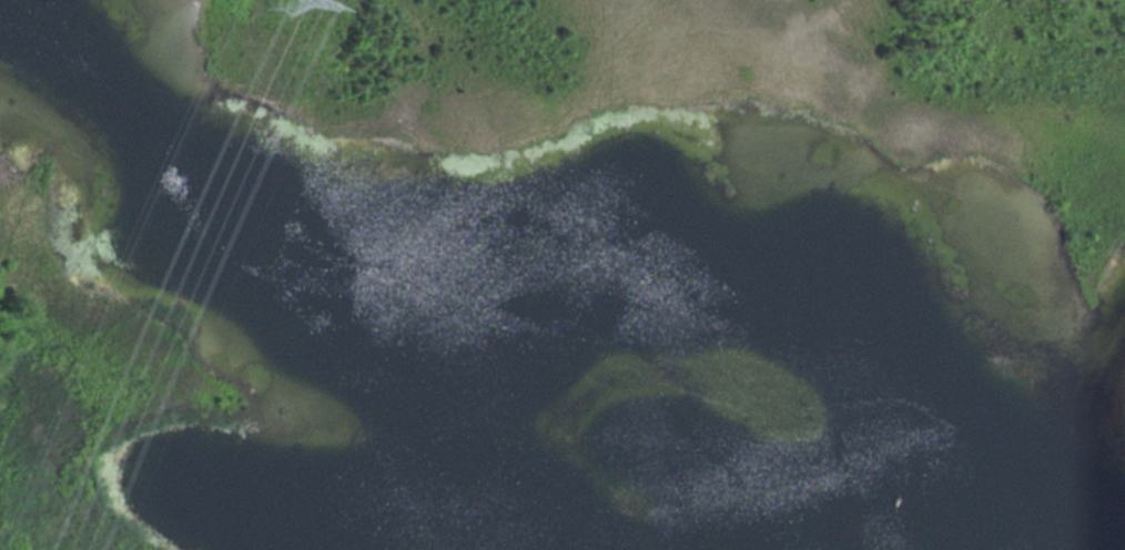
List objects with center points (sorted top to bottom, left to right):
road: (202, 4)
power tower: (280, 4)
park: (562, 275)
river: (538, 283)

